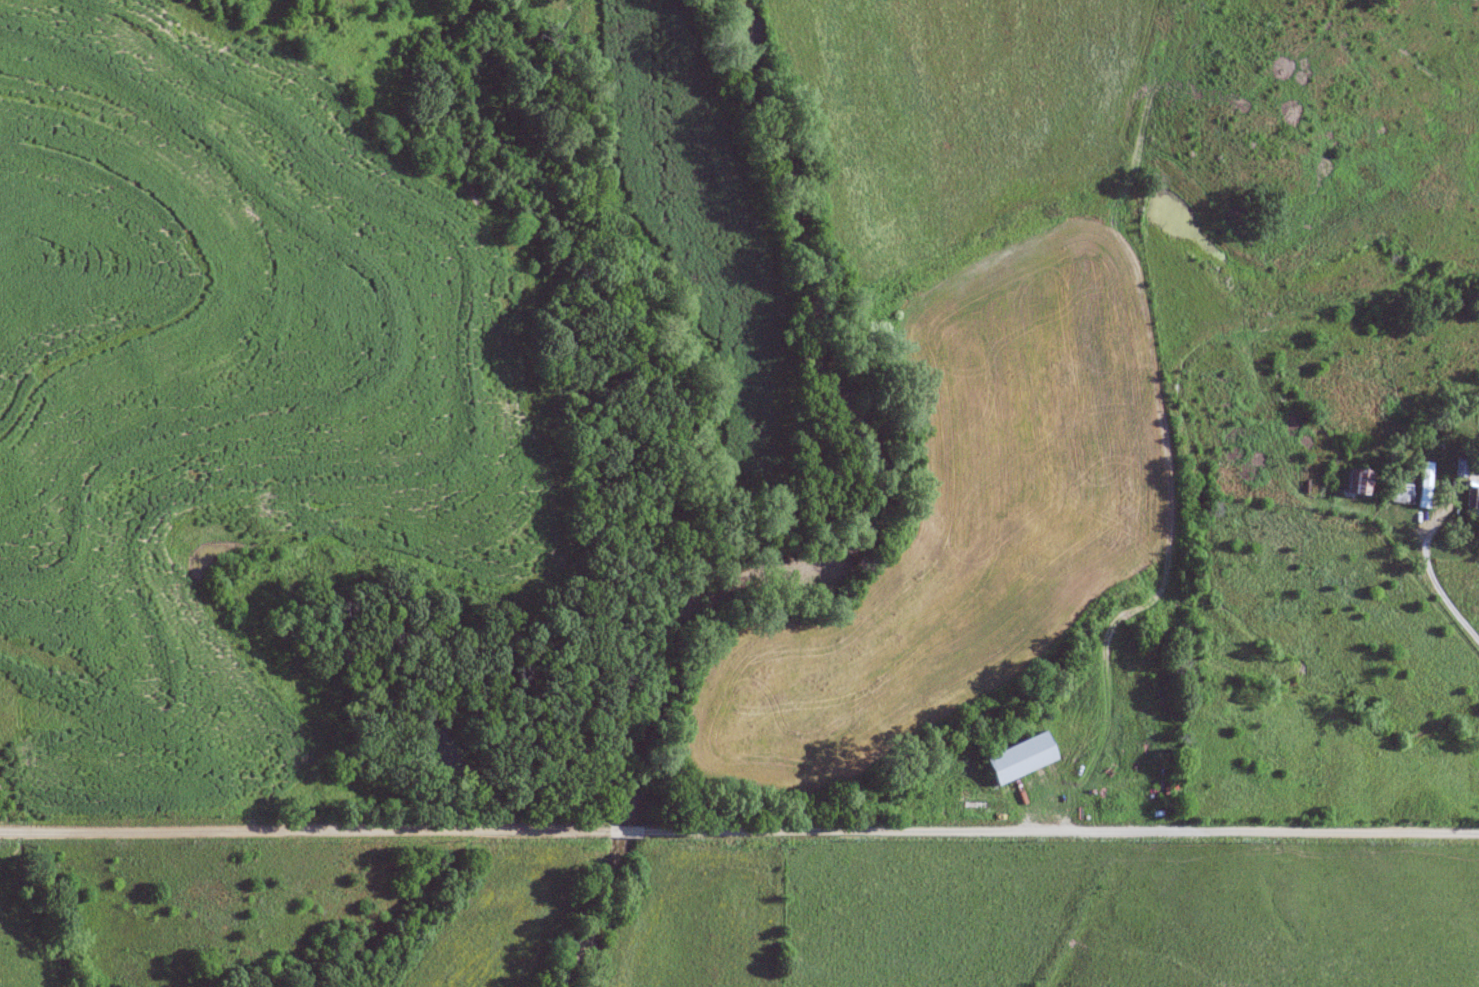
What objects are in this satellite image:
building: (1356, 484)
building: (1409, 493)
building: (1471, 496)
road: (1455, 596)
road: (1125, 739)
building: (1017, 759)
road: (1124, 788)
road: (740, 837)

